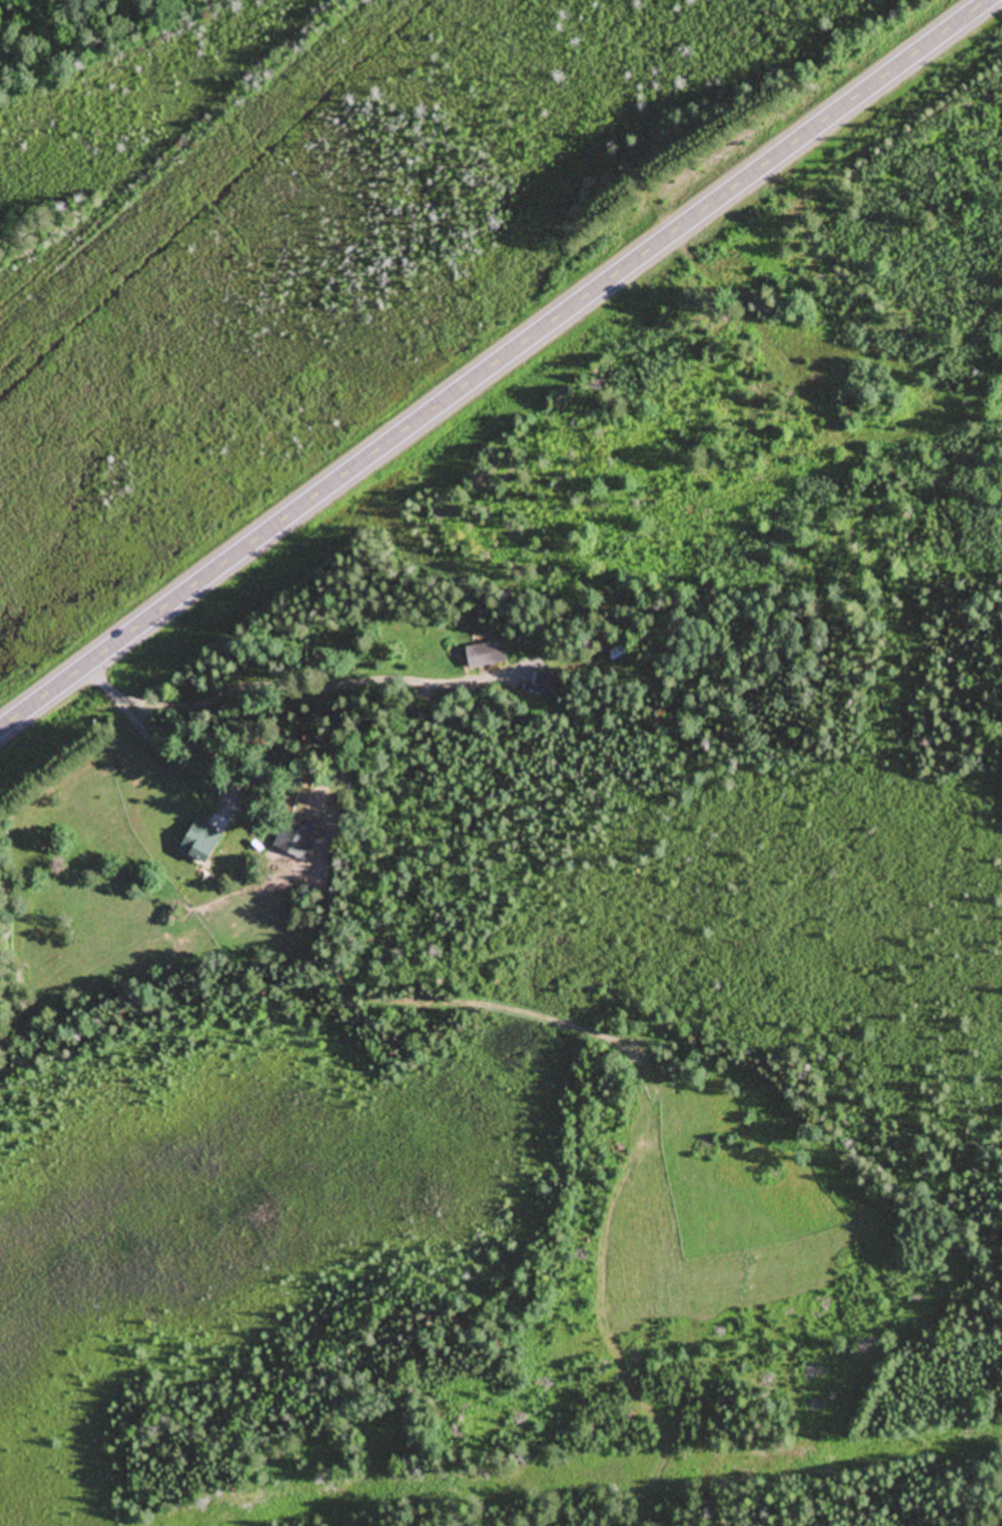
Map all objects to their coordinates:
road: (494, 365)
building: (297, 841)
building: (206, 845)

